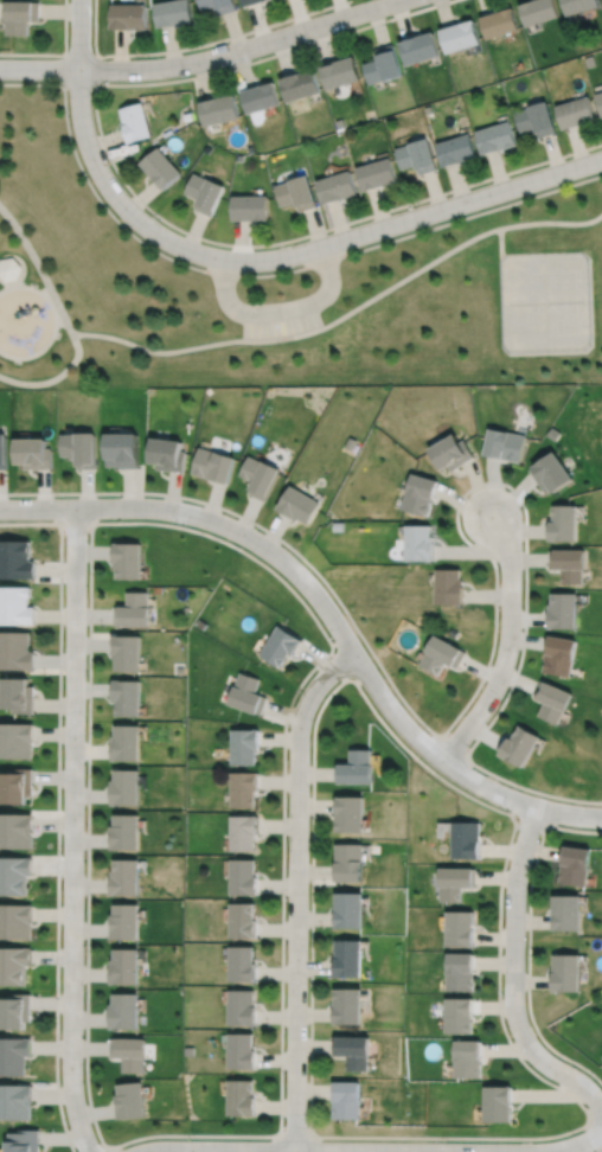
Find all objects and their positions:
building: (252, 2)
street lamp: (430, 2)
building: (577, 5)
building: (219, 6)
building: (538, 9)
building: (174, 13)
building: (21, 14)
building: (129, 17)
building: (499, 21)
road: (79, 34)
building: (459, 34)
street lamp: (308, 40)
road: (197, 45)
building: (418, 46)
road: (242, 49)
road: (59, 55)
building: (382, 64)
road: (39, 69)
building: (338, 71)
street lamp: (187, 76)
road: (94, 83)
building: (299, 83)
street lamp: (91, 95)
building: (258, 96)
building: (600, 100)
building: (219, 109)
building: (574, 110)
building: (536, 117)
building: (136, 121)
building: (494, 136)
road: (601, 145)
building: (455, 149)
building: (415, 155)
street lamp: (568, 158)
building: (161, 167)
building: (374, 173)
building: (334, 186)
building: (204, 191)
building: (295, 192)
street lamp: (447, 194)
road: (136, 198)
building: (249, 206)
street lamp: (160, 220)
road: (551, 222)
street lamp: (328, 232)
road: (500, 243)
road: (288, 255)
building: (9, 269)
road: (24, 269)
road: (39, 269)
road: (251, 275)
road: (15, 284)
road: (7, 286)
park: (283, 288)
road: (51, 296)
park: (544, 302)
road: (278, 311)
road: (59, 316)
parking lot: (280, 316)
road: (56, 321)
road: (297, 334)
road: (53, 379)
building: (352, 443)
building: (504, 446)
building: (79, 448)
building: (122, 449)
building: (2, 453)
building: (32, 453)
building: (449, 453)
building: (167, 454)
building: (213, 465)
building: (551, 473)
building: (260, 476)
street lamp: (57, 495)
building: (418, 495)
building: (299, 505)
road: (76, 523)
building: (563, 524)
building: (339, 526)
building: (420, 543)
building: (15, 561)
building: (127, 561)
road: (260, 561)
building: (569, 565)
street lamp: (63, 582)
building: (448, 588)
building: (15, 606)
road: (327, 609)
building: (133, 612)
building: (562, 612)
road: (493, 641)
road: (507, 645)
building: (280, 647)
building: (15, 652)
building: (127, 653)
building: (442, 655)
building: (559, 657)
road: (339, 665)
building: (246, 695)
building: (18, 697)
building: (127, 697)
building: (551, 700)
street lamp: (85, 719)
building: (17, 740)
building: (126, 742)
road: (455, 742)
building: (519, 743)
building: (244, 745)
building: (359, 764)
building: (15, 783)
building: (124, 785)
building: (243, 786)
road: (58, 807)
road: (493, 807)
building: (351, 812)
road: (526, 819)
building: (17, 830)
road: (72, 831)
building: (124, 831)
building: (243, 832)
building: (467, 838)
street lamp: (60, 853)
building: (350, 860)
building: (576, 863)
building: (14, 873)
building: (123, 876)
building: (243, 876)
building: (456, 881)
road: (296, 890)
building: (351, 909)
building: (566, 911)
building: (242, 920)
building: (15, 921)
building: (123, 921)
building: (461, 927)
road: (529, 940)
building: (350, 956)
building: (241, 964)
building: (14, 965)
building: (123, 966)
building: (461, 971)
building: (566, 971)
road: (513, 975)
street lamp: (83, 988)
building: (350, 1005)
building: (241, 1007)
building: (15, 1011)
building: (122, 1011)
building: (460, 1015)
building: (356, 1050)
building: (241, 1051)
building: (128, 1054)
building: (14, 1056)
building: (468, 1057)
building: (241, 1099)
building: (348, 1099)
building: (129, 1101)
building: (15, 1102)
building: (499, 1103)
road: (594, 1111)
street lamp: (66, 1122)
road: (295, 1135)
road: (591, 1137)
building: (25, 1141)
road: (94, 1147)
road: (566, 1147)
road: (119, 1148)
road: (324, 1151)
road: (601, 1151)

